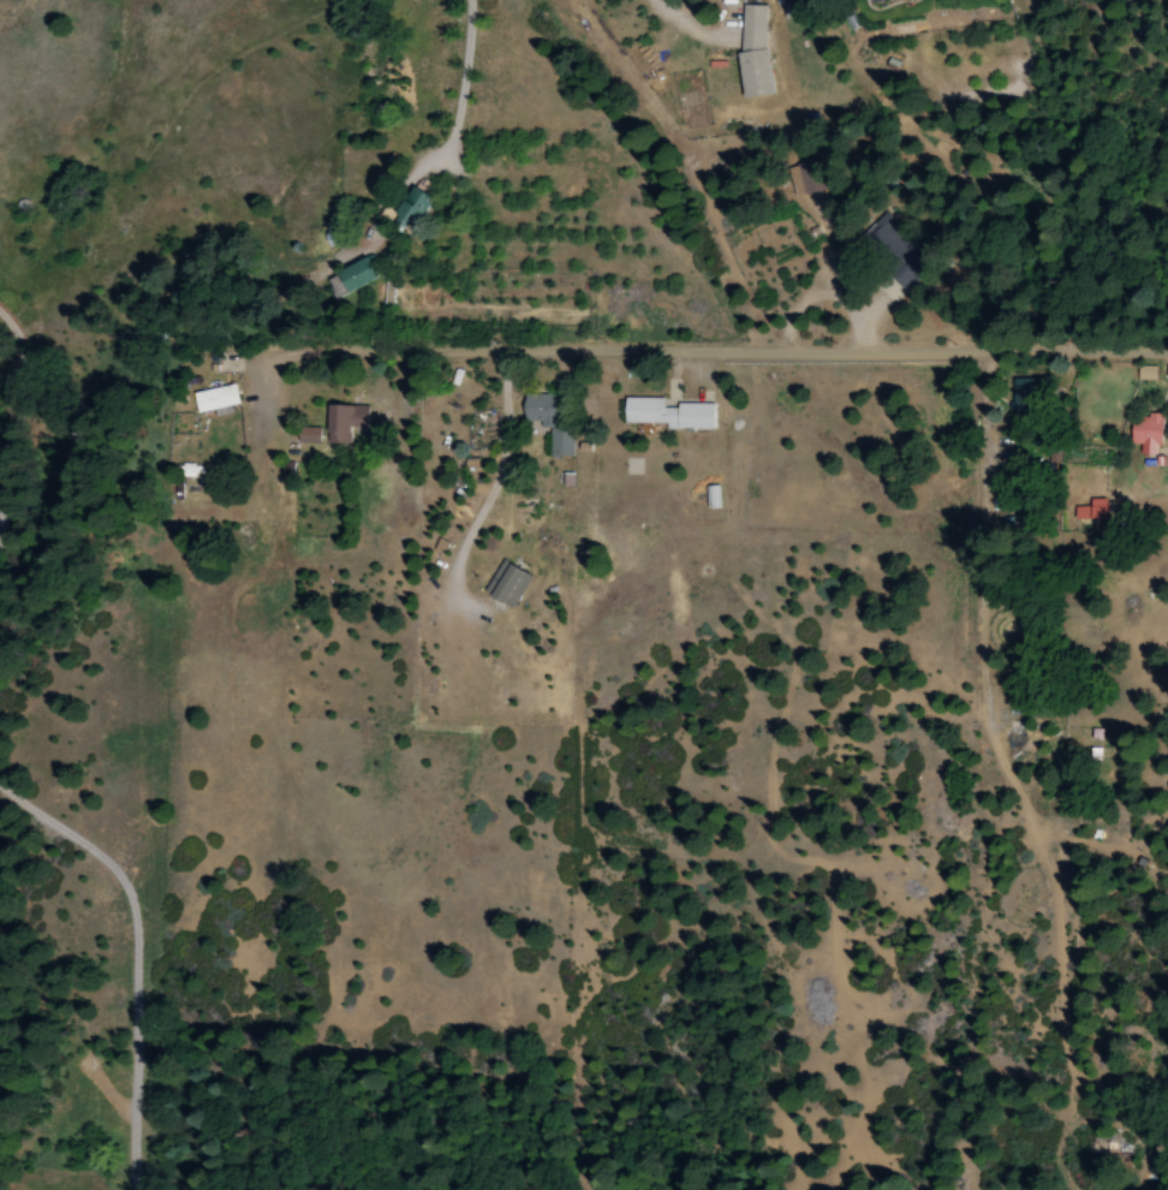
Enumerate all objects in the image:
building: (874, 0)
building: (752, 49)
building: (803, 179)
building: (412, 204)
building: (894, 251)
building: (357, 273)
road: (771, 345)
building: (215, 399)
building: (667, 413)
building: (547, 421)
building: (342, 422)
building: (1145, 433)
building: (306, 435)
building: (1069, 454)
building: (1091, 510)
building: (506, 584)

